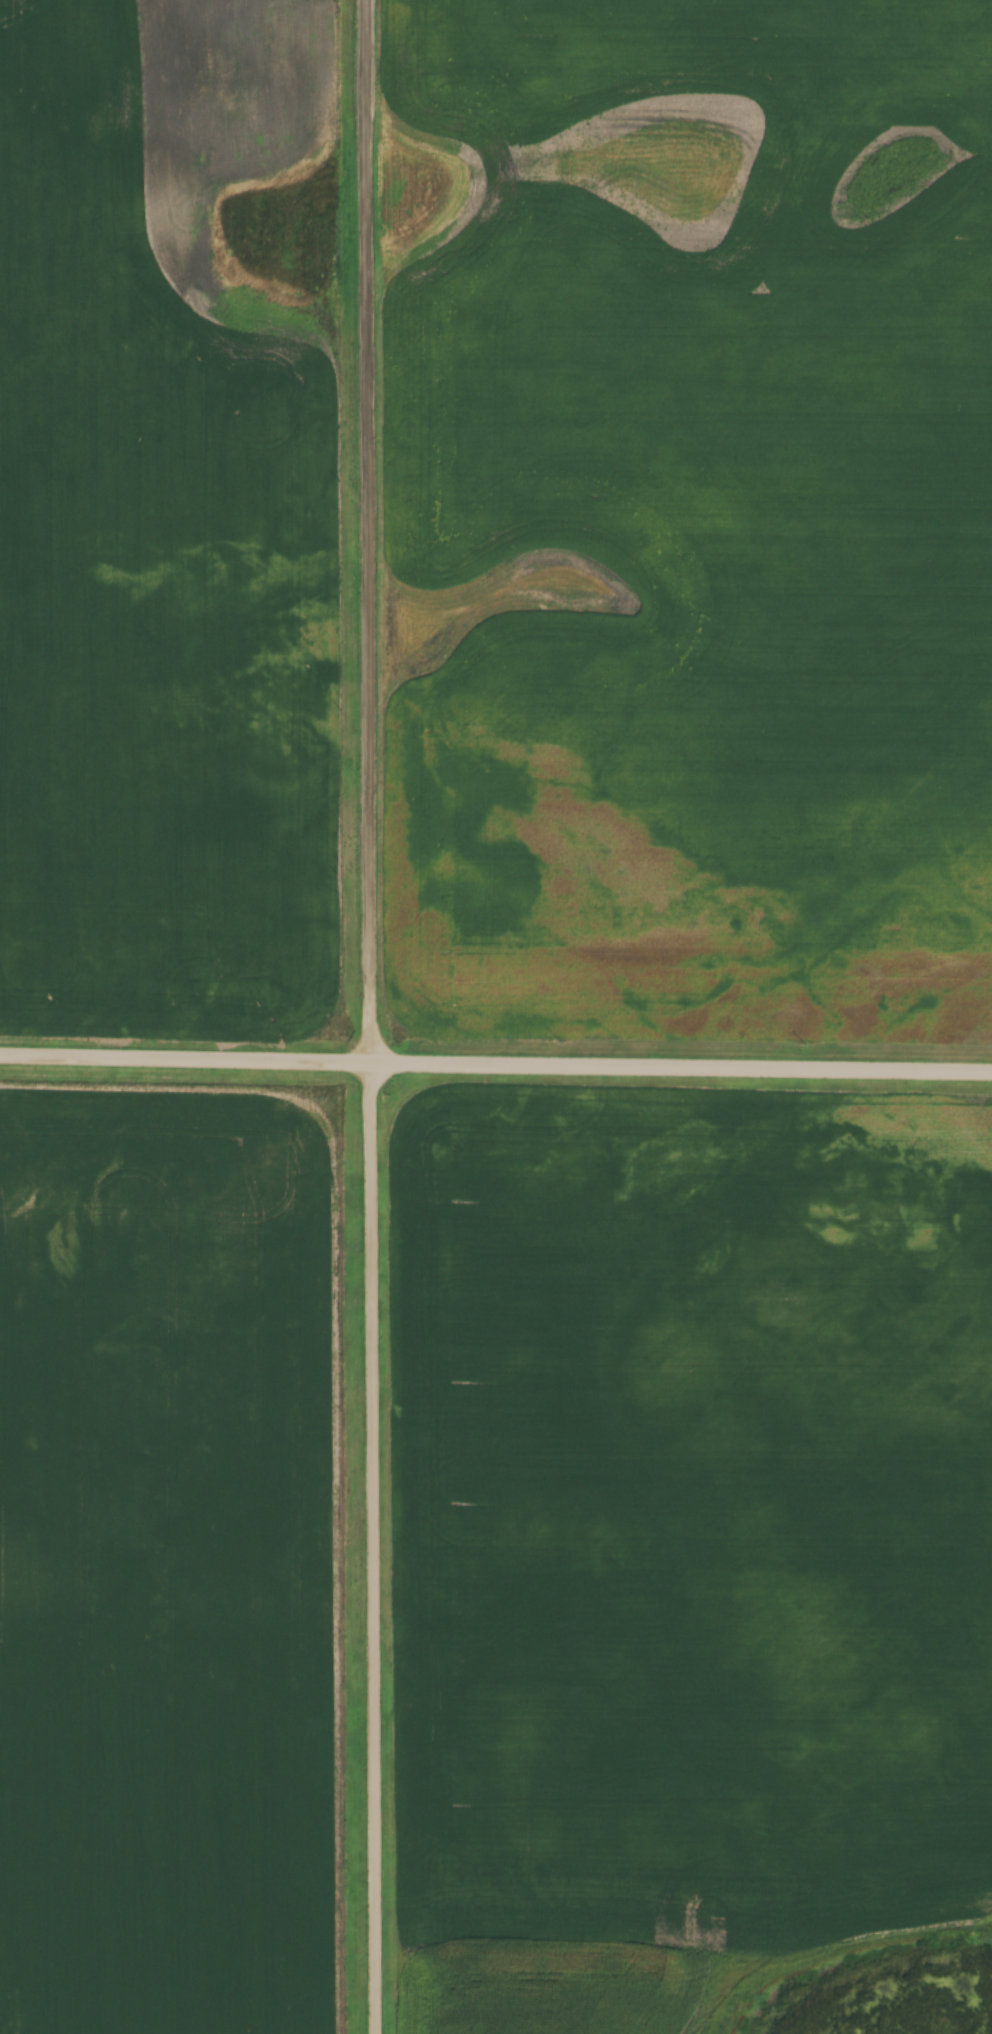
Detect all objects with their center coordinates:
road: (369, 1017)
road: (495, 1064)

